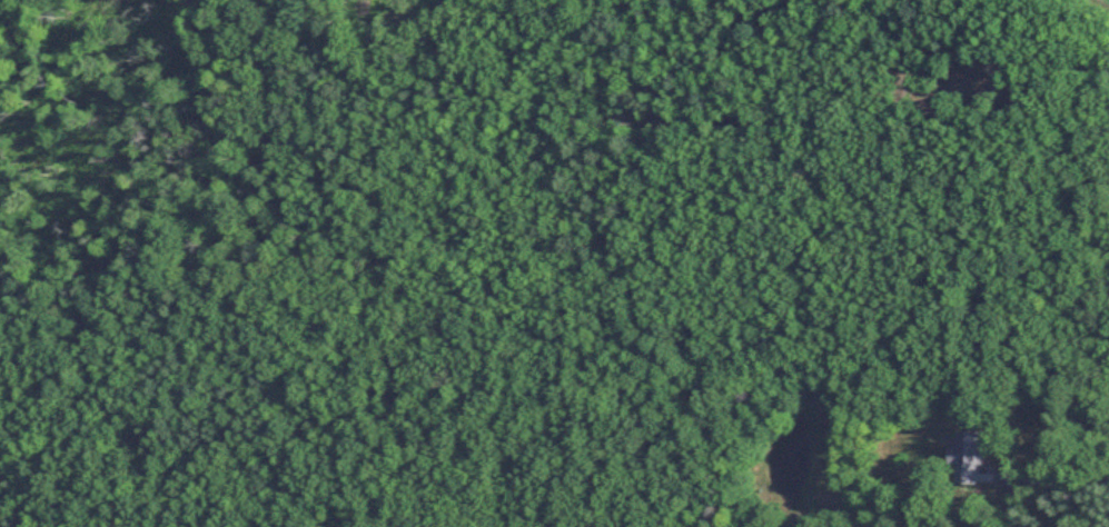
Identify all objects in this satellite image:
building: (963, 459)
road: (1052, 476)

